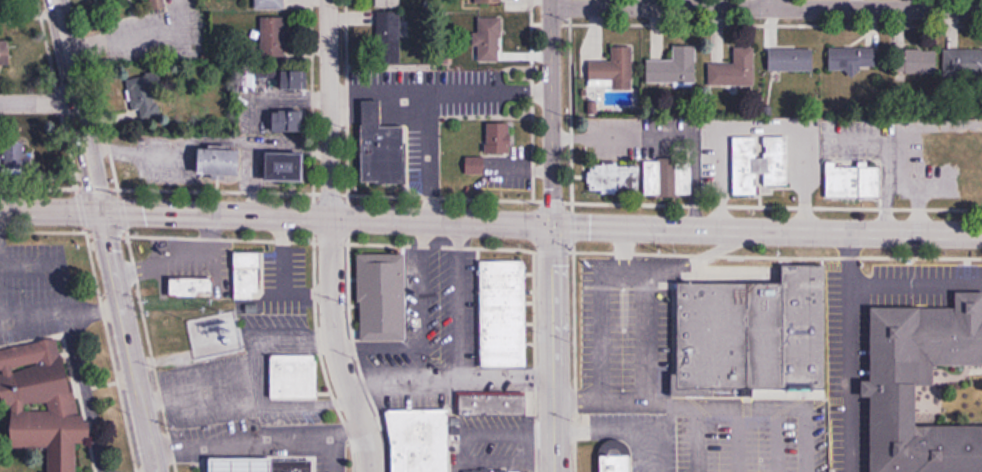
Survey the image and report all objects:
building: (489, 1)
building: (387, 3)
building: (160, 4)
building: (270, 4)
road: (768, 4)
road: (765, 7)
building: (387, 35)
building: (274, 37)
building: (486, 46)
building: (5, 52)
building: (853, 58)
building: (791, 60)
building: (917, 60)
building: (963, 62)
building: (674, 68)
building: (613, 69)
building: (735, 69)
building: (295, 79)
building: (144, 96)
road: (38, 103)
road: (550, 112)
building: (289, 120)
building: (498, 136)
building: (382, 147)
building: (12, 159)
building: (220, 160)
building: (475, 164)
building: (286, 165)
building: (757, 166)
building: (614, 176)
building: (668, 177)
building: (853, 179)
road: (490, 221)
road: (105, 235)
road: (329, 238)
building: (248, 275)
road: (912, 277)
building: (191, 287)
building: (382, 296)
building: (504, 313)
building: (752, 330)
road: (551, 348)
road: (844, 350)
building: (903, 373)
building: (294, 376)
building: (42, 401)
building: (494, 403)
road: (257, 436)
building: (420, 440)
road: (328, 453)
building: (329, 455)
road: (200, 459)
building: (616, 462)
building: (249, 463)
building: (291, 467)
building: (474, 471)

